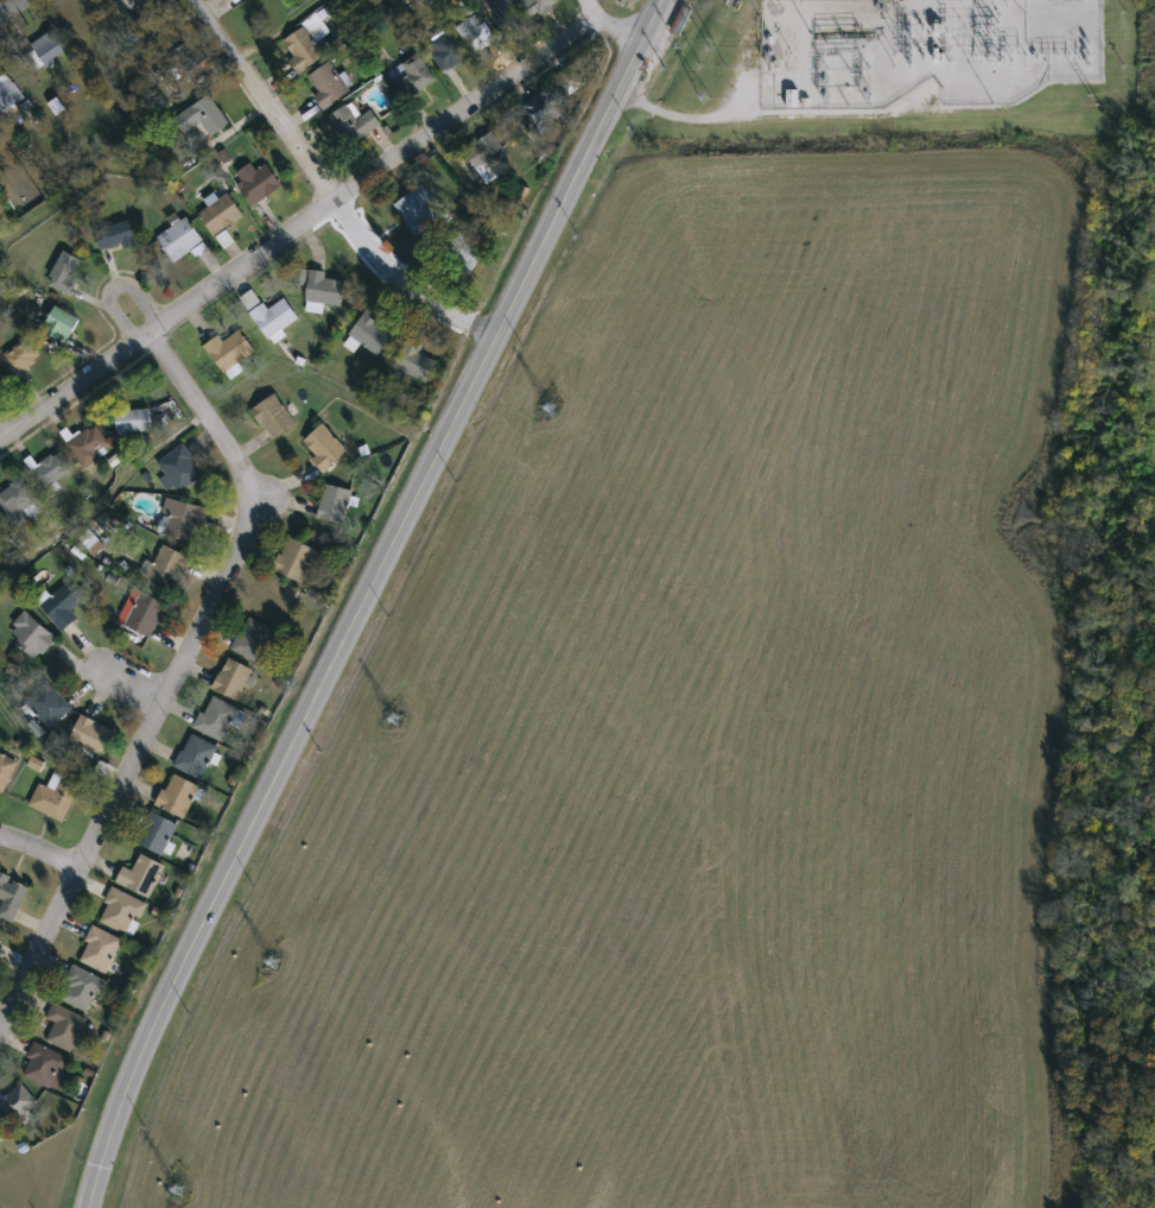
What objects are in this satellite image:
building: (544, 6)
road: (11, 7)
building: (132, 8)
road: (0, 14)
building: (680, 17)
road: (608, 23)
road: (274, 29)
building: (476, 33)
building: (303, 49)
building: (46, 50)
power substation: (924, 51)
building: (446, 52)
building: (411, 77)
building: (572, 81)
building: (328, 86)
building: (8, 94)
power tower: (703, 97)
building: (545, 108)
building: (203, 118)
building: (353, 125)
building: (488, 154)
road: (129, 164)
road: (576, 169)
building: (256, 183)
road: (324, 188)
building: (415, 208)
building: (221, 215)
road: (297, 224)
building: (115, 238)
building: (180, 240)
building: (468, 252)
building: (65, 272)
road: (113, 286)
building: (324, 292)
building: (275, 318)
building: (61, 324)
building: (369, 334)
building: (229, 350)
building: (20, 358)
building: (415, 362)
power tower: (548, 409)
building: (274, 418)
building: (133, 420)
road: (4, 428)
building: (89, 447)
building: (325, 448)
building: (178, 469)
building: (51, 470)
road: (106, 498)
building: (19, 502)
building: (335, 505)
building: (1, 521)
building: (183, 521)
building: (296, 561)
building: (170, 568)
railway: (413, 599)
building: (63, 606)
building: (146, 614)
building: (254, 640)
road: (177, 676)
building: (234, 677)
building: (47, 700)
building: (217, 714)
power tower: (395, 716)
building: (90, 732)
building: (195, 752)
road: (49, 757)
building: (6, 766)
road: (278, 769)
building: (177, 791)
building: (55, 792)
building: (157, 829)
road: (40, 848)
building: (140, 872)
building: (11, 891)
building: (121, 907)
building: (0, 940)
building: (99, 945)
power tower: (272, 961)
building: (82, 985)
building: (65, 1023)
building: (45, 1062)
building: (18, 1099)
building: (1, 1130)
power tower: (178, 1187)

